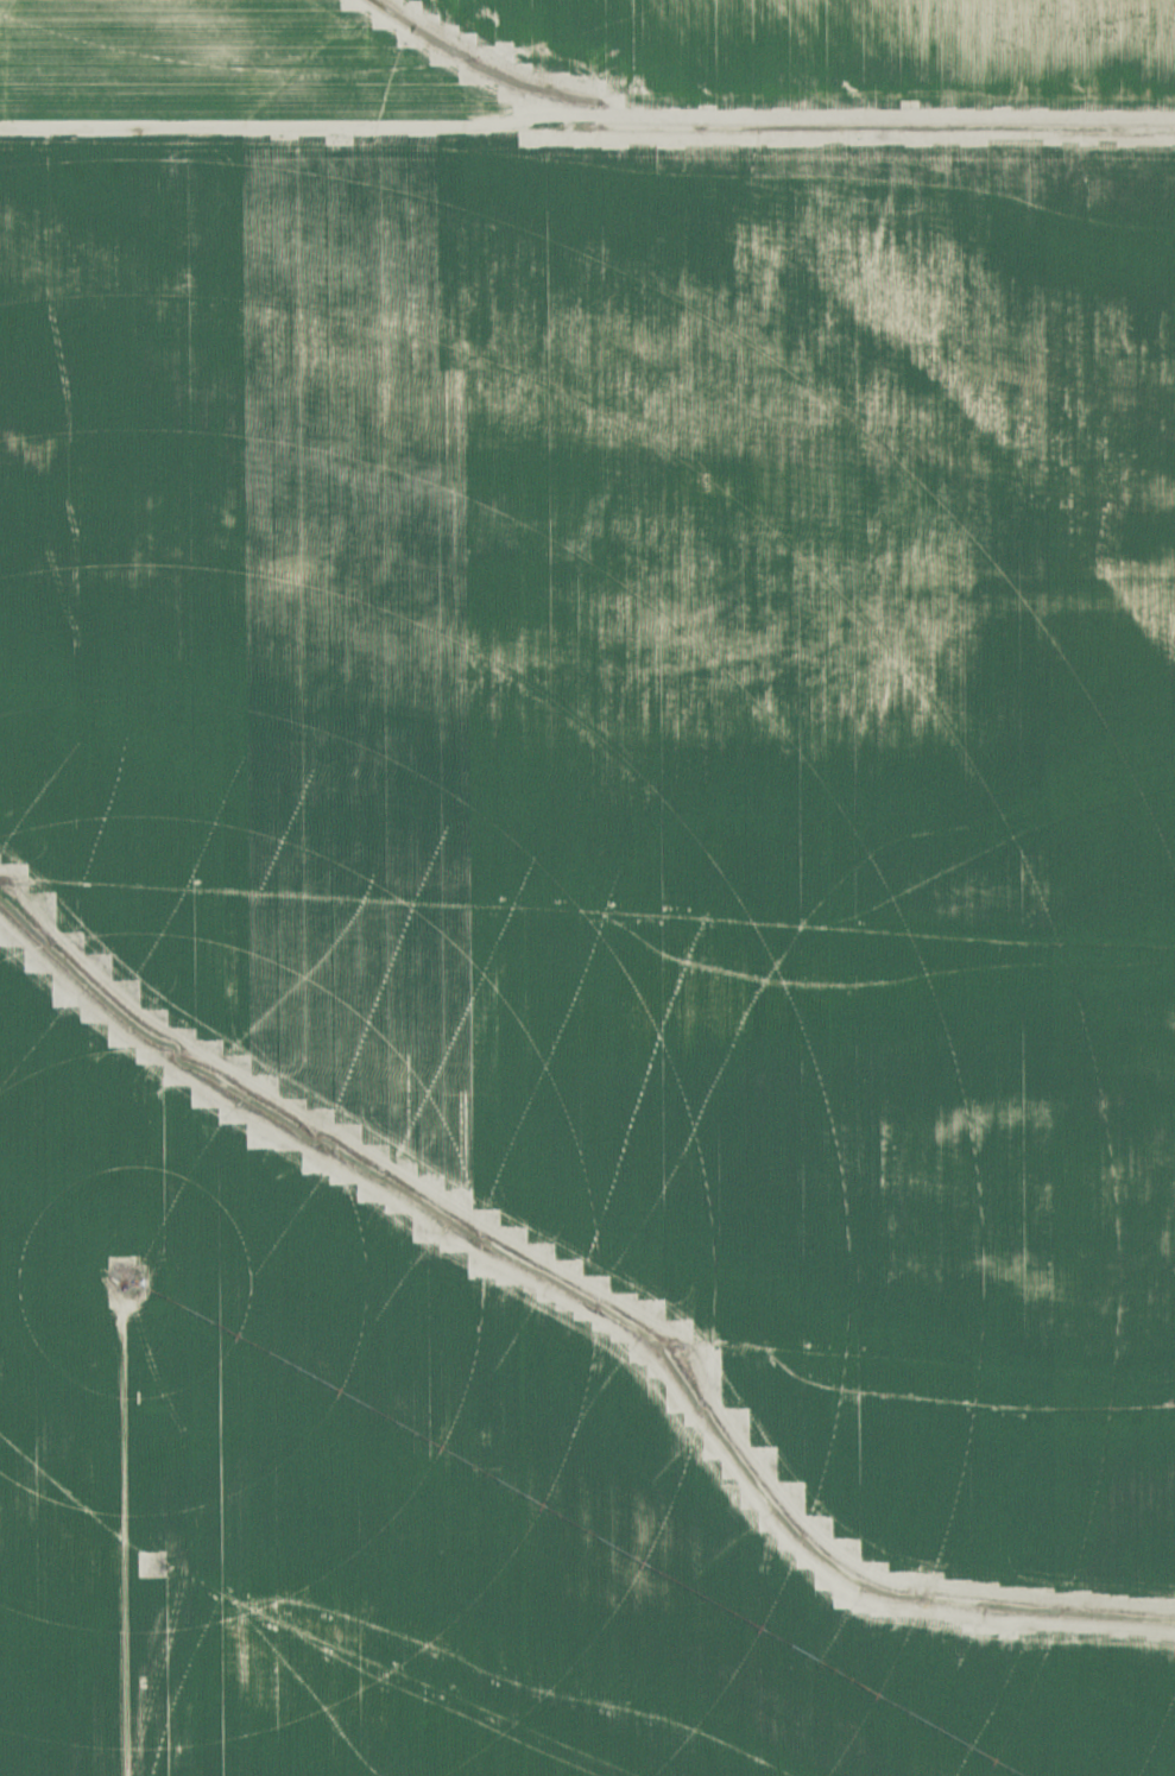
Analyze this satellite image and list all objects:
road: (587, 116)

